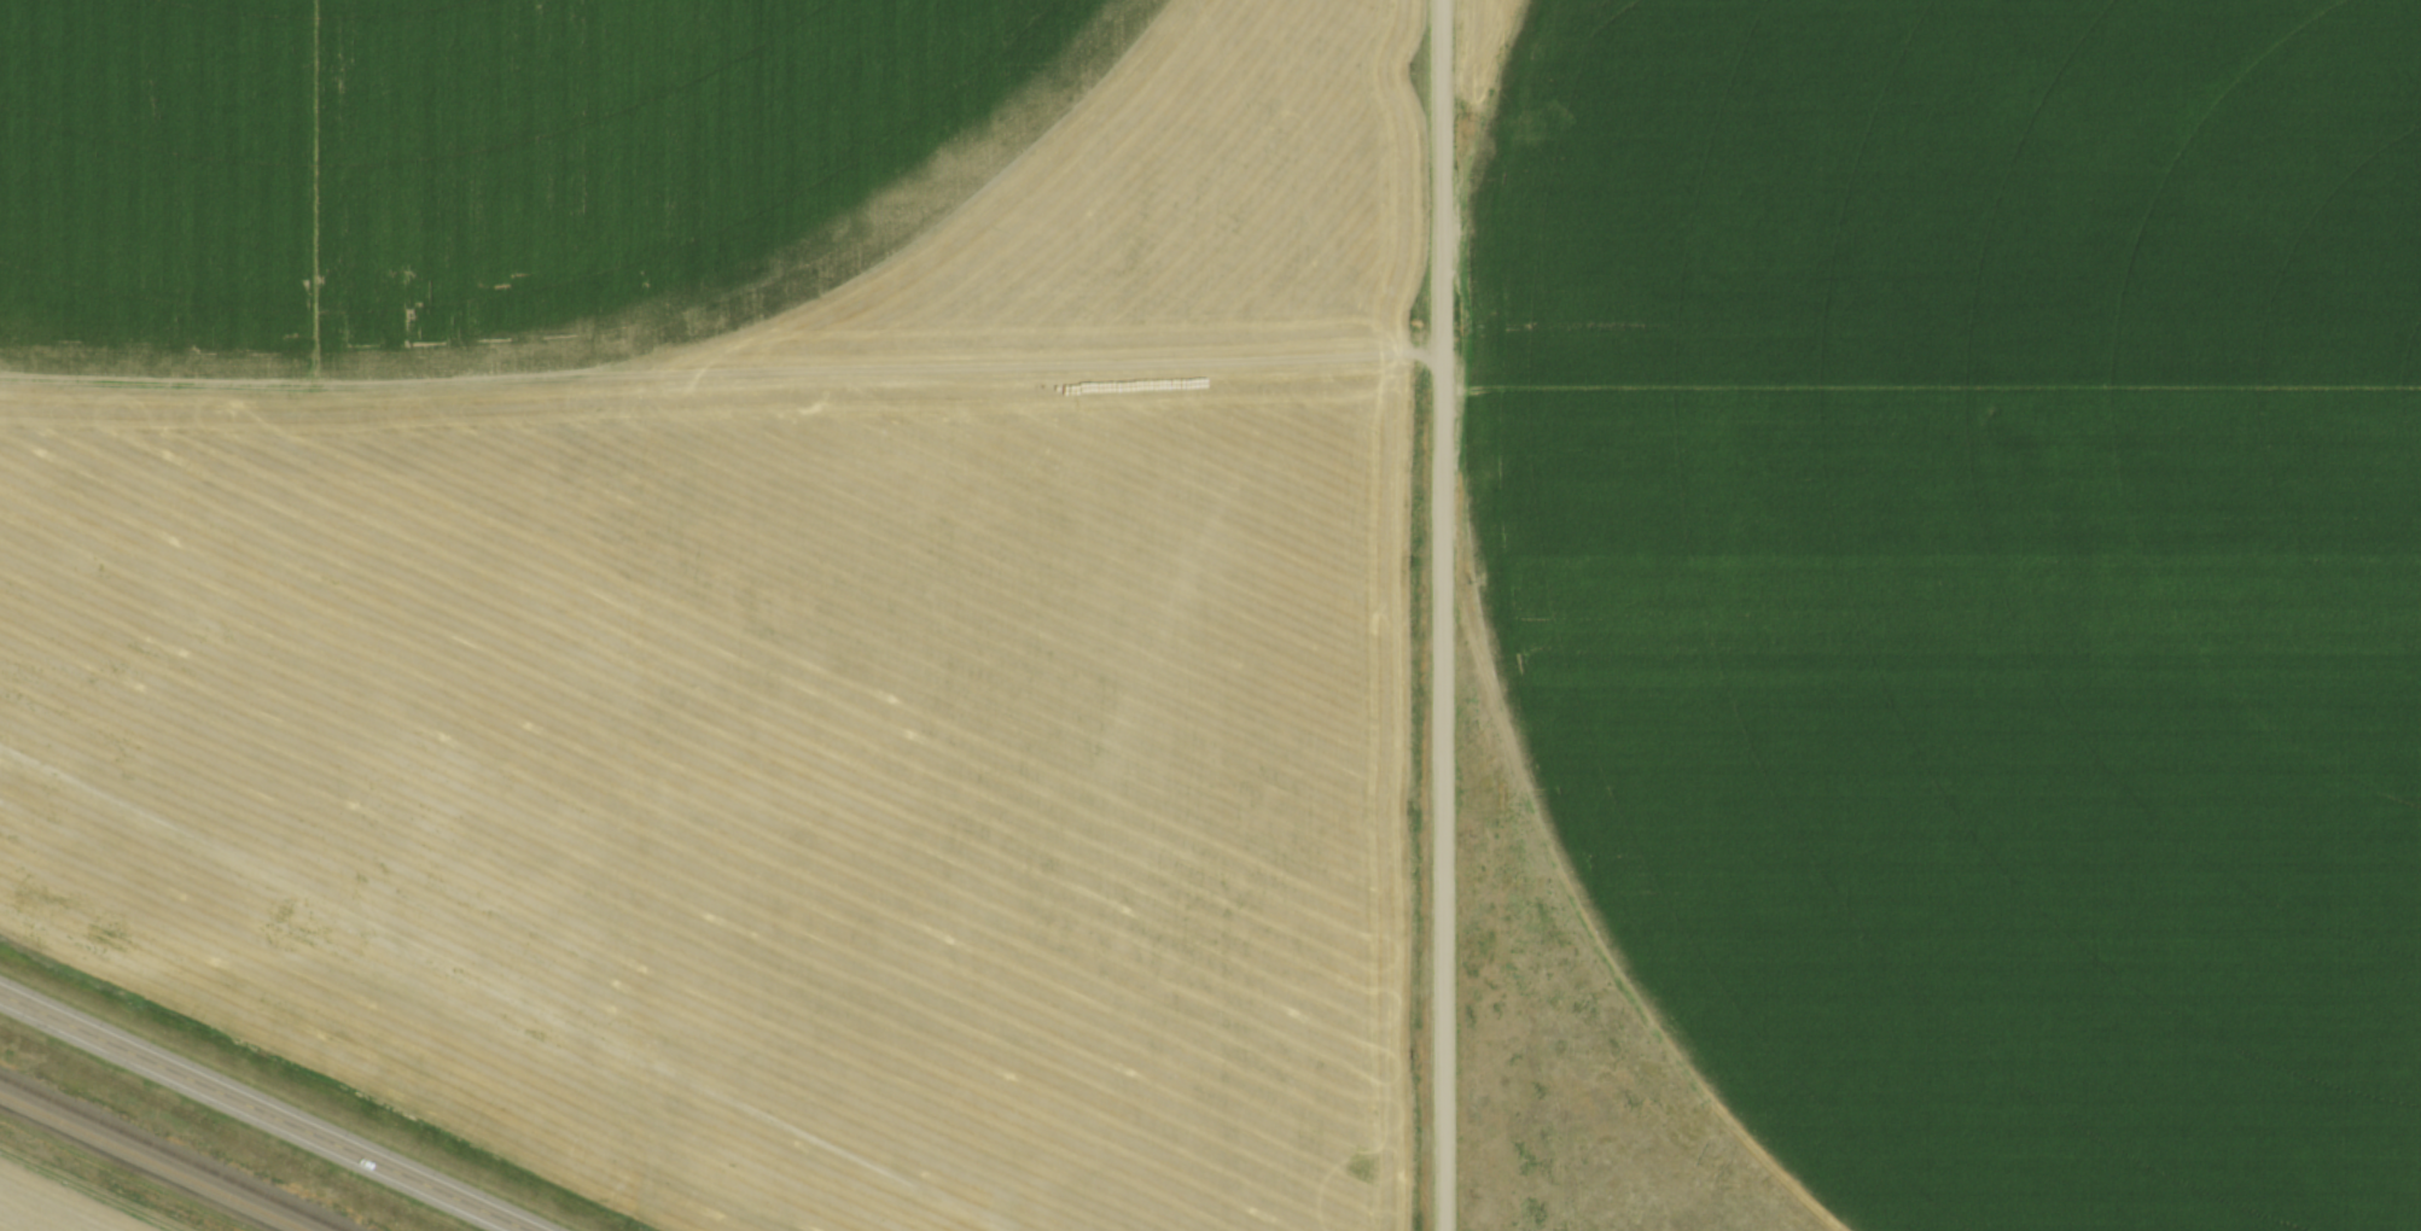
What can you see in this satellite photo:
road: (1447, 614)
road: (268, 1110)
railway: (175, 1151)
railway: (155, 1161)

